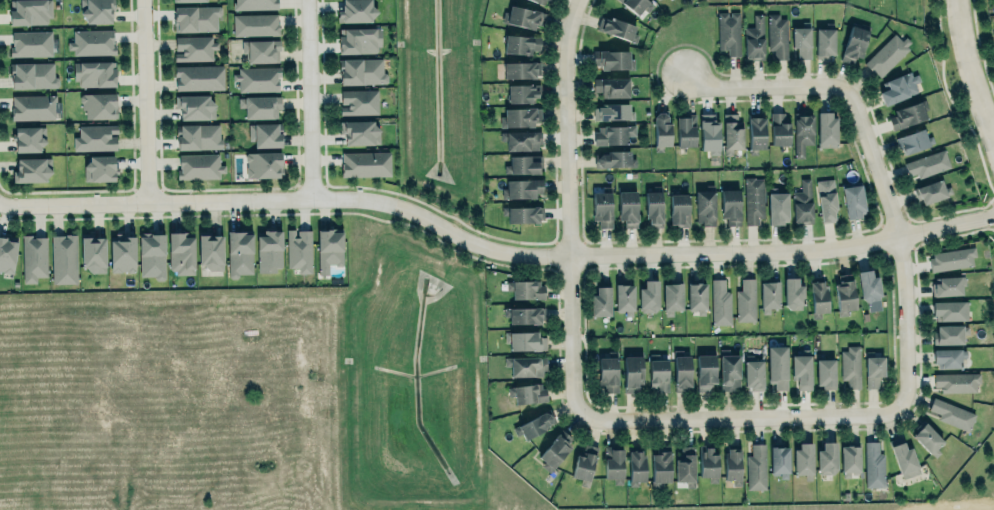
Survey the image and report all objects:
building: (191, 0)
building: (542, 2)
building: (255, 4)
building: (634, 5)
building: (97, 11)
building: (355, 11)
building: (29, 12)
building: (523, 16)
building: (196, 17)
building: (255, 24)
building: (614, 27)
building: (728, 32)
building: (777, 35)
building: (754, 38)
building: (802, 39)
building: (360, 40)
building: (91, 41)
building: (855, 41)
building: (824, 42)
building: (30, 43)
building: (520, 43)
building: (193, 47)
building: (261, 50)
building: (887, 54)
building: (611, 59)
building: (520, 69)
building: (361, 70)
road: (971, 71)
building: (94, 73)
building: (32, 75)
building: (198, 77)
building: (257, 78)
building: (611, 86)
road: (765, 86)
building: (899, 87)
building: (522, 92)
road: (307, 98)
road: (144, 100)
building: (358, 101)
building: (98, 104)
building: (32, 106)
building: (194, 106)
building: (260, 106)
building: (611, 111)
building: (907, 114)
building: (519, 116)
building: (779, 127)
building: (661, 128)
building: (825, 129)
building: (685, 130)
building: (731, 131)
building: (361, 132)
building: (755, 132)
building: (612, 133)
building: (708, 133)
building: (802, 133)
building: (265, 134)
building: (198, 136)
building: (95, 137)
building: (29, 138)
building: (521, 139)
building: (914, 140)
building: (614, 159)
building: (365, 163)
building: (927, 163)
building: (263, 164)
building: (522, 164)
building: (199, 166)
building: (99, 167)
building: (32, 169)
building: (523, 188)
building: (932, 191)
building: (753, 199)
building: (825, 200)
building: (852, 200)
building: (802, 203)
building: (730, 205)
building: (705, 207)
road: (568, 208)
building: (601, 208)
building: (627, 208)
building: (653, 208)
building: (777, 208)
building: (679, 209)
building: (522, 213)
road: (901, 244)
building: (329, 248)
building: (268, 250)
building: (299, 250)
road: (493, 250)
building: (210, 251)
building: (181, 252)
building: (7, 253)
building: (240, 253)
building: (93, 254)
building: (122, 254)
building: (151, 254)
building: (33, 257)
building: (64, 258)
building: (951, 258)
building: (947, 285)
building: (869, 286)
building: (526, 289)
building: (792, 293)
building: (844, 294)
building: (768, 295)
building: (649, 296)
building: (818, 296)
building: (672, 297)
building: (697, 297)
building: (624, 298)
building: (601, 299)
building: (745, 300)
building: (719, 302)
building: (950, 310)
building: (526, 315)
building: (949, 333)
building: (525, 341)
building: (948, 358)
building: (525, 365)
building: (851, 366)
building: (777, 367)
building: (728, 370)
building: (801, 370)
building: (682, 371)
building: (874, 371)
building: (608, 372)
building: (632, 372)
building: (704, 372)
building: (658, 373)
building: (824, 373)
building: (753, 374)
building: (956, 381)
building: (526, 393)
building: (952, 414)
road: (741, 415)
building: (532, 425)
building: (927, 438)
building: (554, 450)
building: (904, 457)
building: (802, 458)
building: (826, 458)
building: (849, 458)
building: (779, 461)
building: (707, 462)
building: (731, 463)
building: (584, 464)
building: (613, 464)
building: (873, 465)
building: (636, 466)
building: (659, 466)
building: (685, 466)
building: (756, 467)

